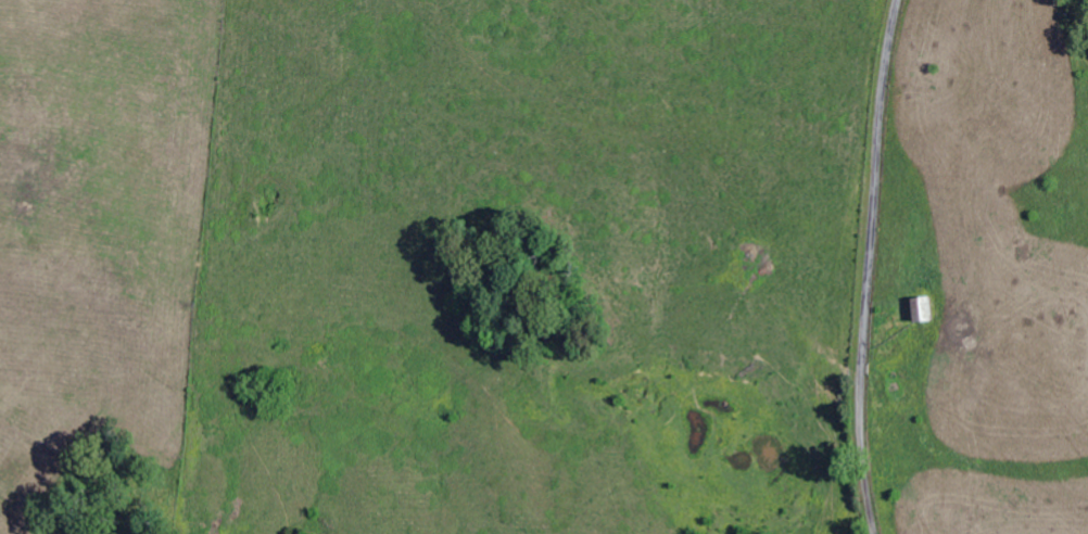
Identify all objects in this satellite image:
road: (872, 266)

